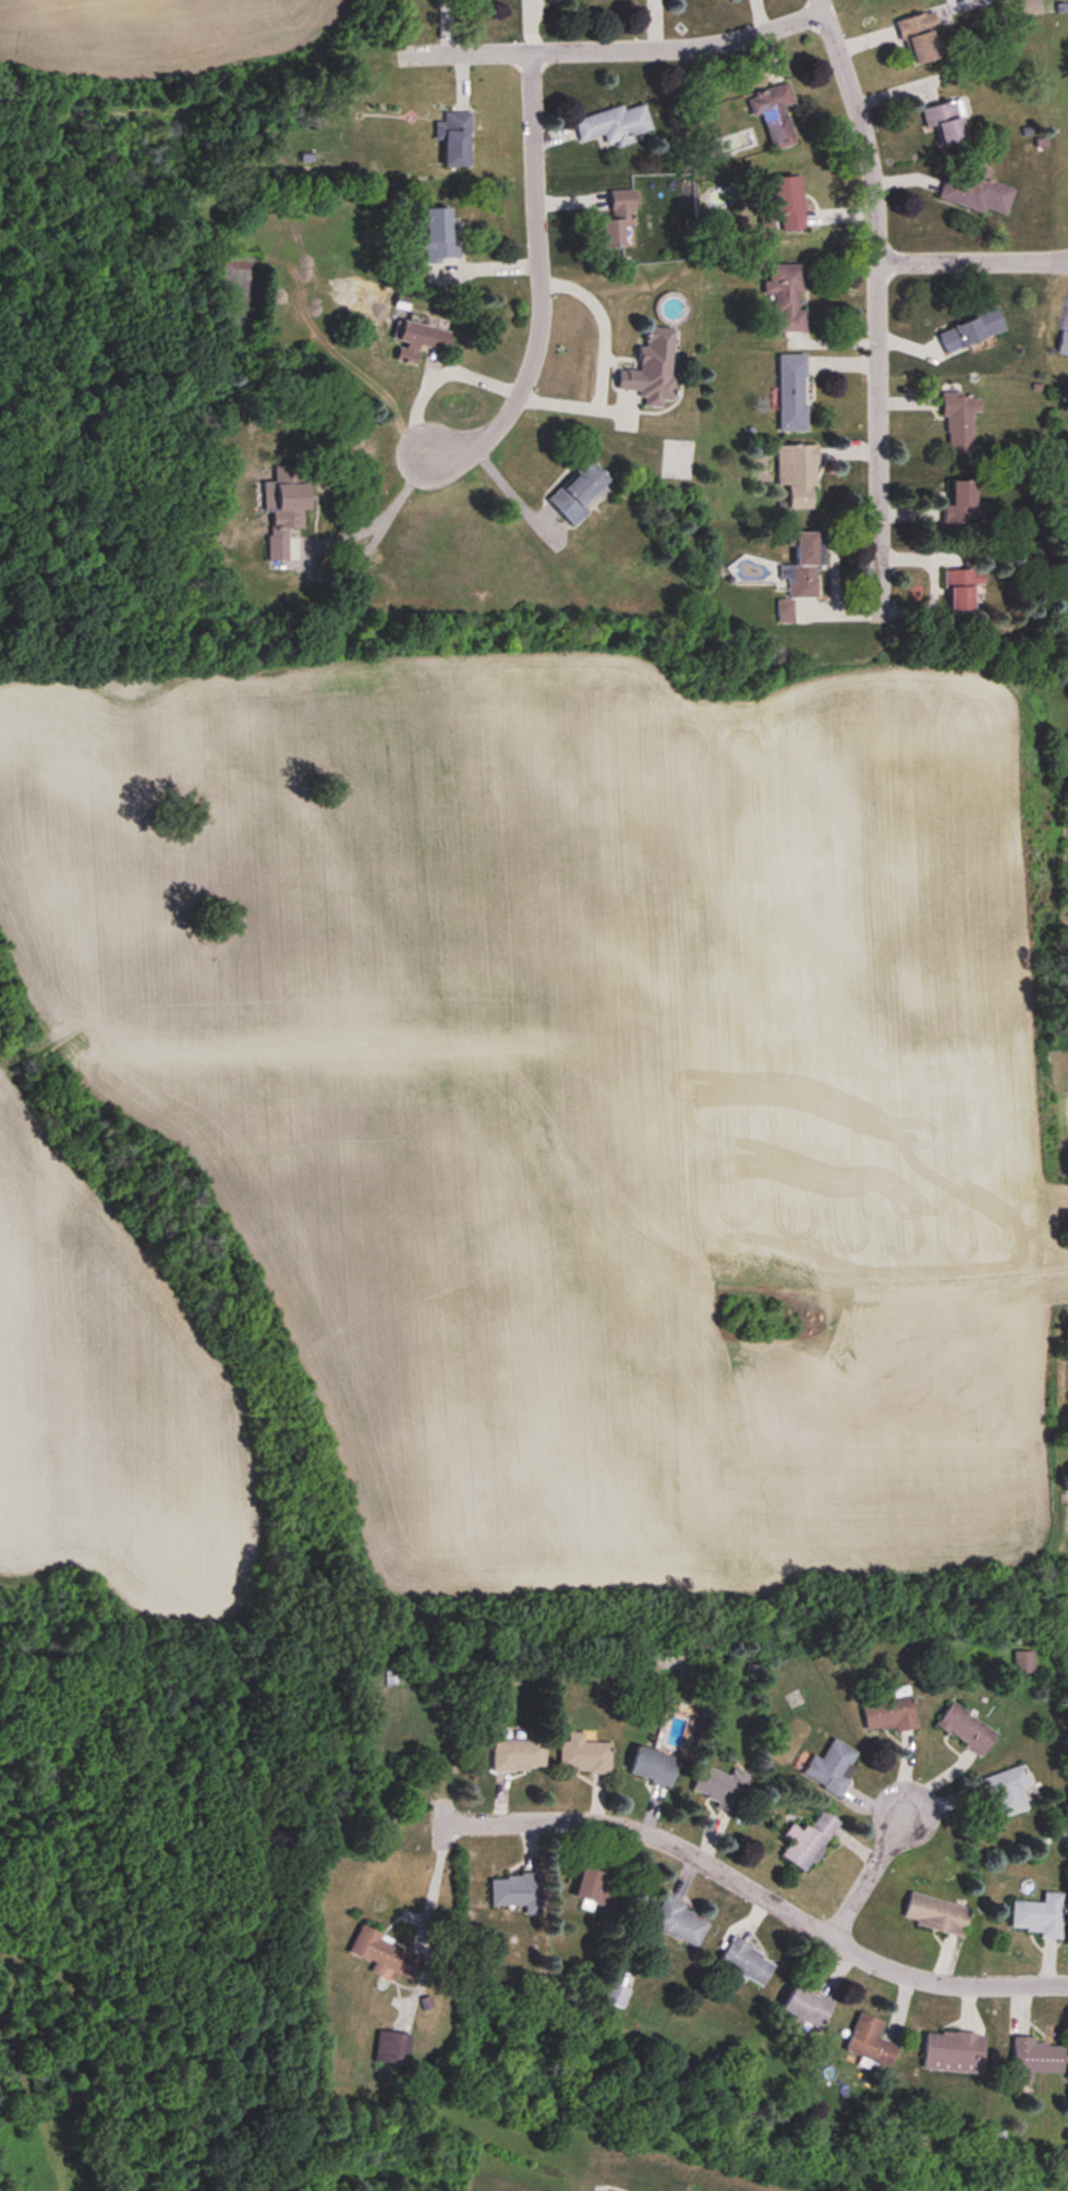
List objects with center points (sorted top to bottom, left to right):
building: (921, 37)
road: (598, 48)
building: (774, 114)
building: (947, 122)
building: (614, 125)
building: (456, 138)
building: (978, 193)
building: (788, 202)
building: (619, 219)
building: (437, 237)
road: (973, 259)
road: (538, 285)
building: (787, 296)
road: (877, 310)
building: (971, 330)
building: (421, 342)
building: (1064, 344)
road: (604, 358)
building: (653, 370)
building: (792, 392)
building: (960, 421)
building: (798, 474)
road: (513, 491)
building: (577, 491)
building: (963, 503)
building: (284, 508)
road: (378, 531)
building: (804, 567)
building: (961, 590)
building: (785, 612)
building: (1023, 1661)
building: (890, 1712)
building: (967, 1728)
building: (584, 1755)
building: (519, 1756)
building: (654, 1766)
building: (832, 1767)
building: (720, 1787)
building: (1008, 1791)
building: (809, 1840)
road: (870, 1876)
road: (434, 1880)
building: (596, 1888)
building: (518, 1892)
road: (765, 1897)
building: (636, 1905)
building: (936, 1914)
building: (1041, 1915)
building: (680, 1923)
building: (385, 1956)
building: (747, 1962)
building: (808, 2006)
building: (870, 2041)
building: (391, 2049)
building: (952, 2051)
building: (1035, 2059)

